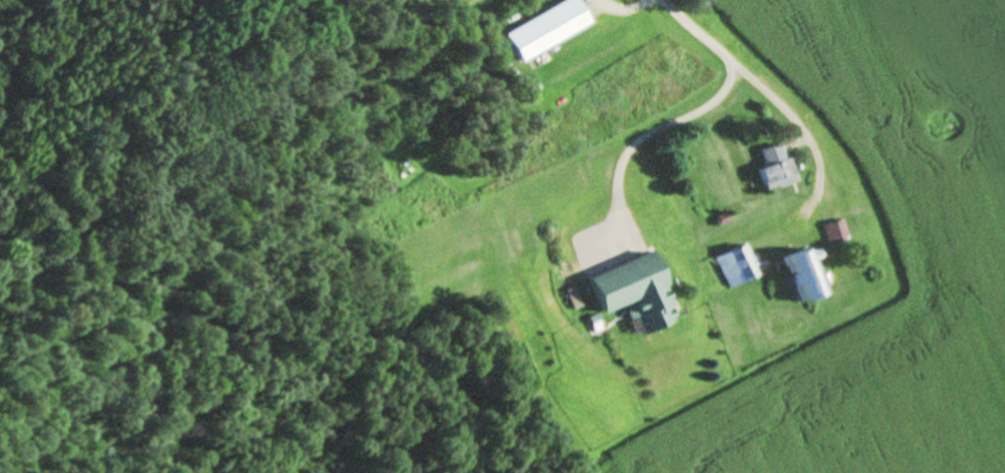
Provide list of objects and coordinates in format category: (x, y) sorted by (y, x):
building: (547, 31)
road: (767, 94)
road: (641, 134)
building: (778, 177)
building: (836, 234)
building: (737, 267)
building: (805, 275)
building: (637, 293)

